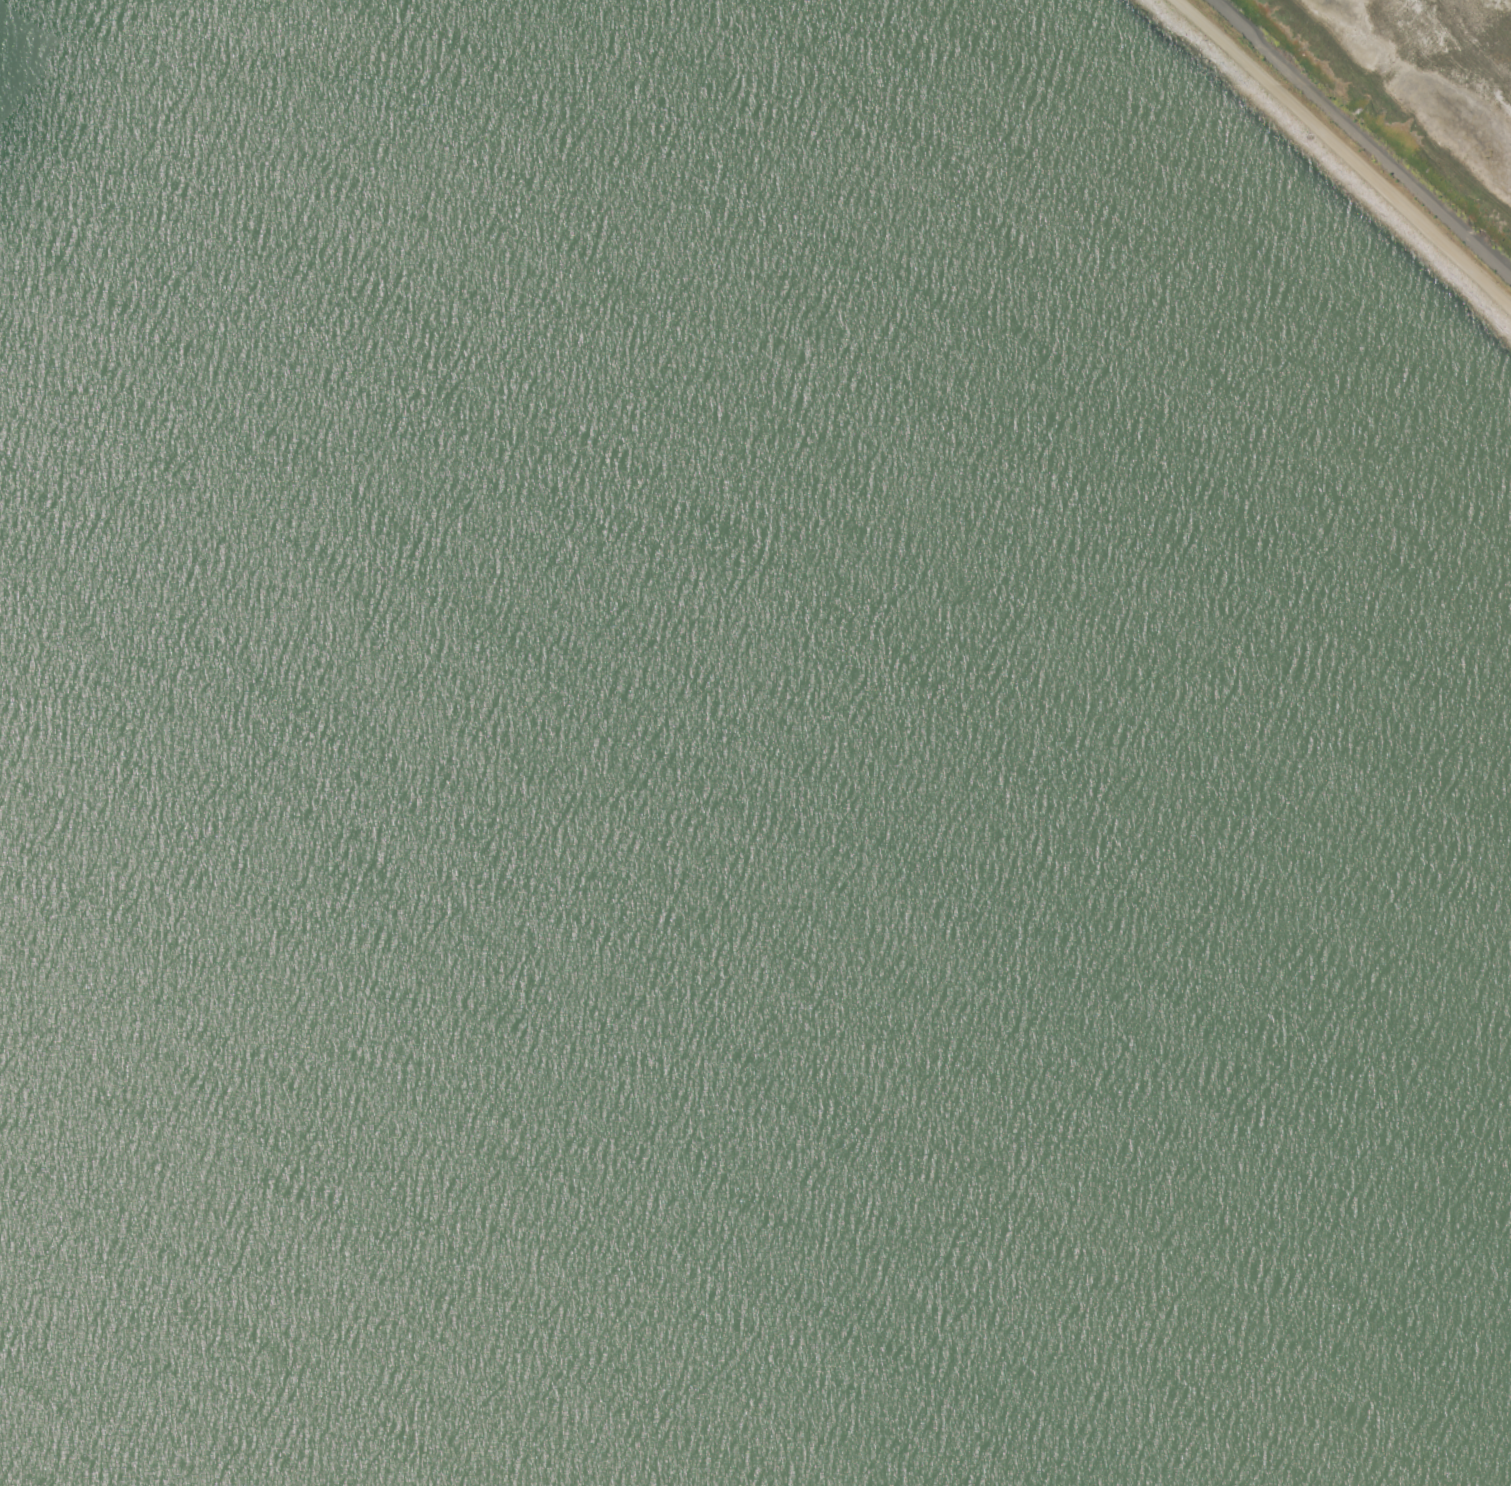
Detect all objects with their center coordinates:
airport: (1389, 108)

